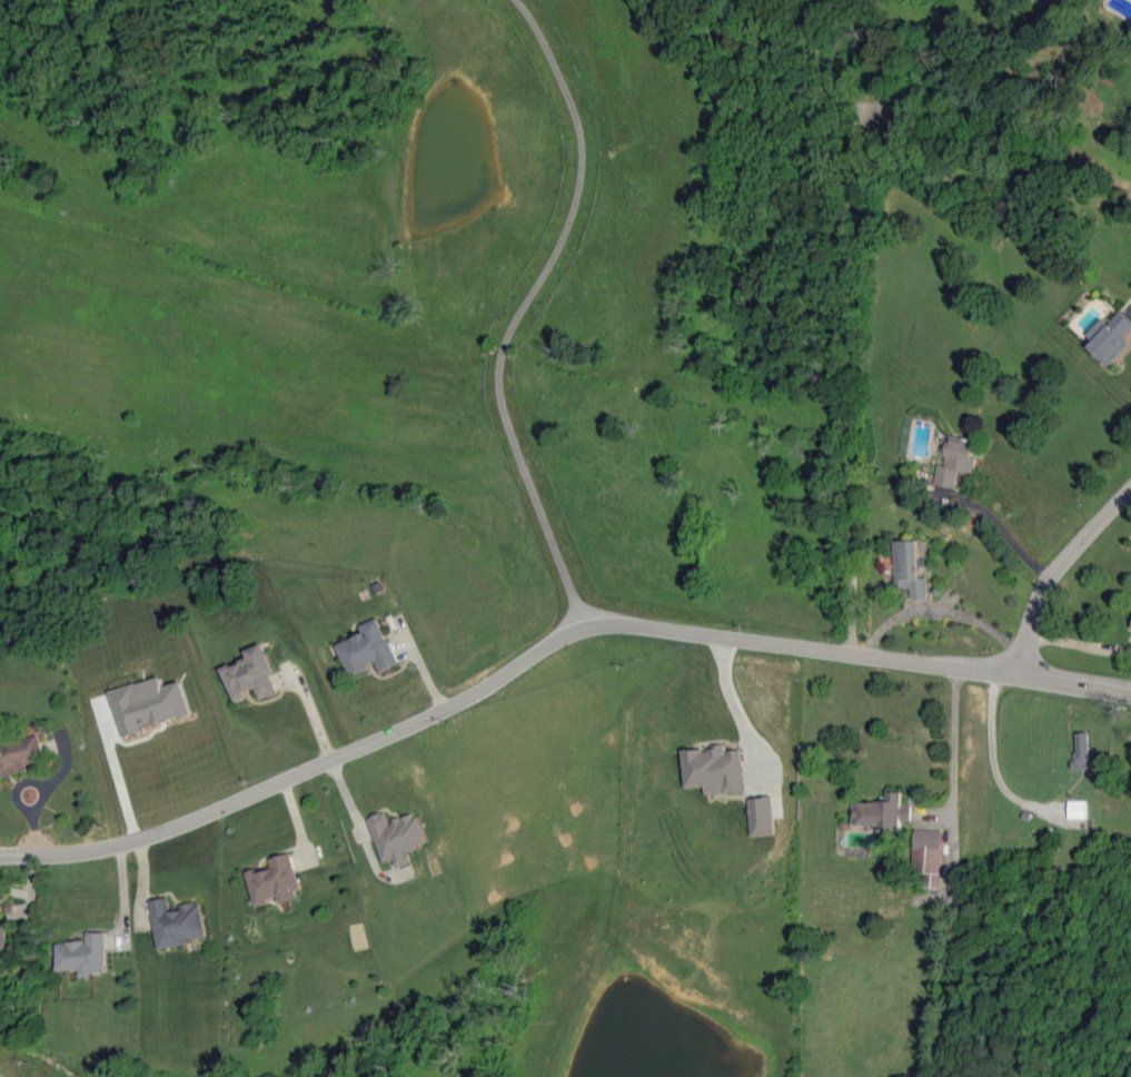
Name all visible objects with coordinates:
road: (516, 312)
building: (1110, 337)
building: (955, 460)
road: (1006, 534)
building: (910, 569)
road: (1055, 574)
road: (939, 612)
building: (367, 649)
road: (547, 650)
building: (251, 674)
building: (149, 704)
road: (732, 704)
building: (1082, 750)
building: (19, 754)
road: (990, 762)
building: (714, 769)
road: (119, 780)
road: (17, 798)
building: (1077, 809)
building: (883, 812)
building: (761, 816)
building: (398, 837)
building: (929, 856)
road: (953, 873)
building: (275, 880)
road: (123, 900)
building: (177, 922)
building: (2, 937)
building: (82, 955)

